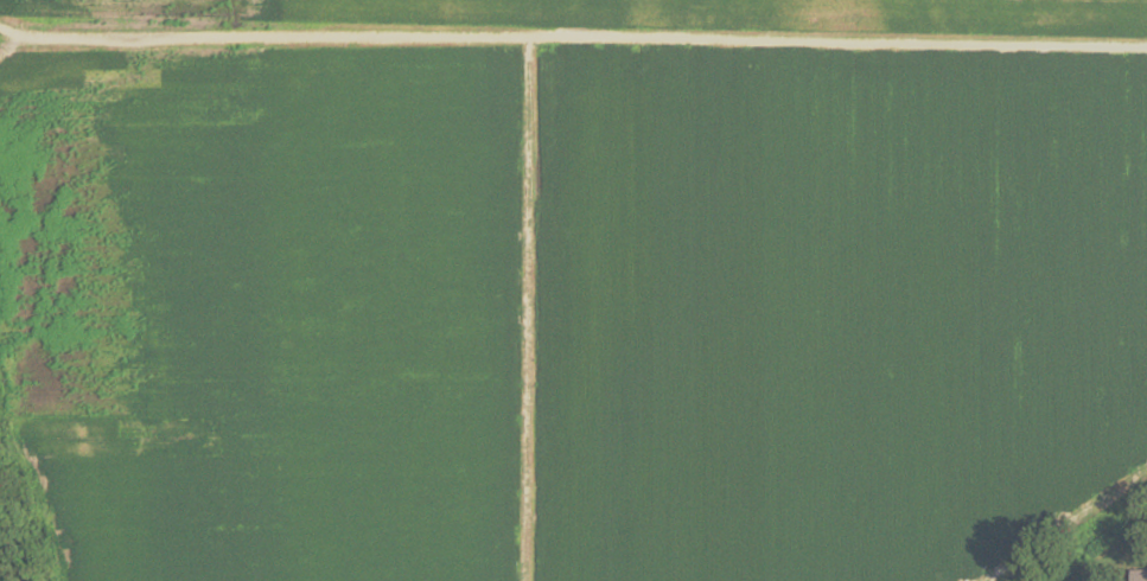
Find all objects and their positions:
road: (563, 36)

